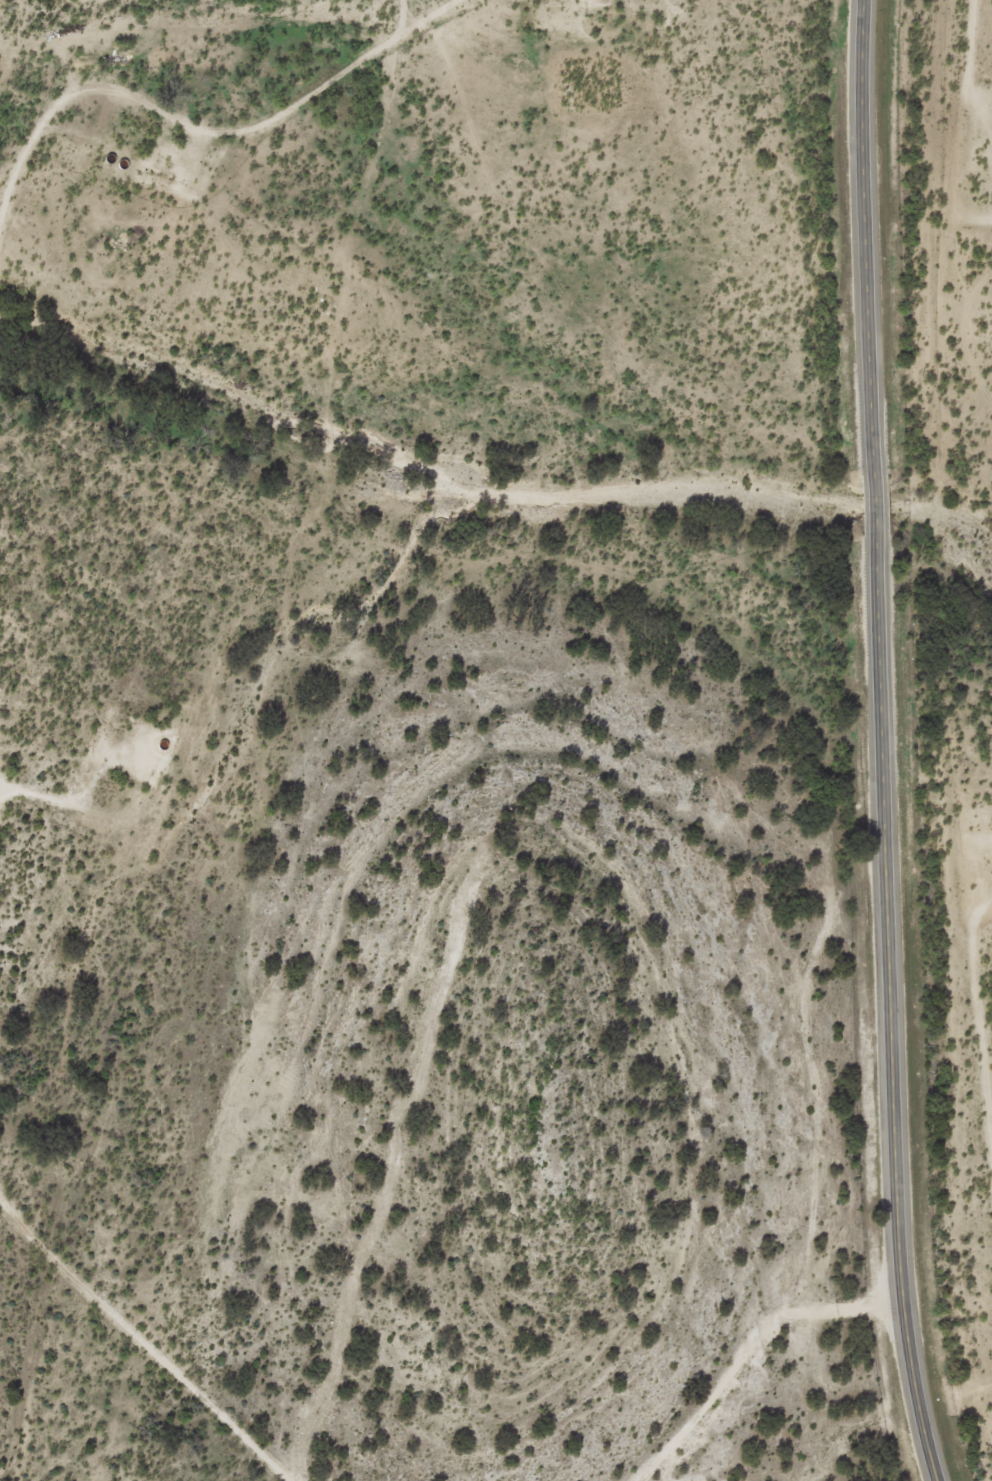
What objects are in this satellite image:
road: (866, 245)
road: (872, 515)
road: (890, 1012)

